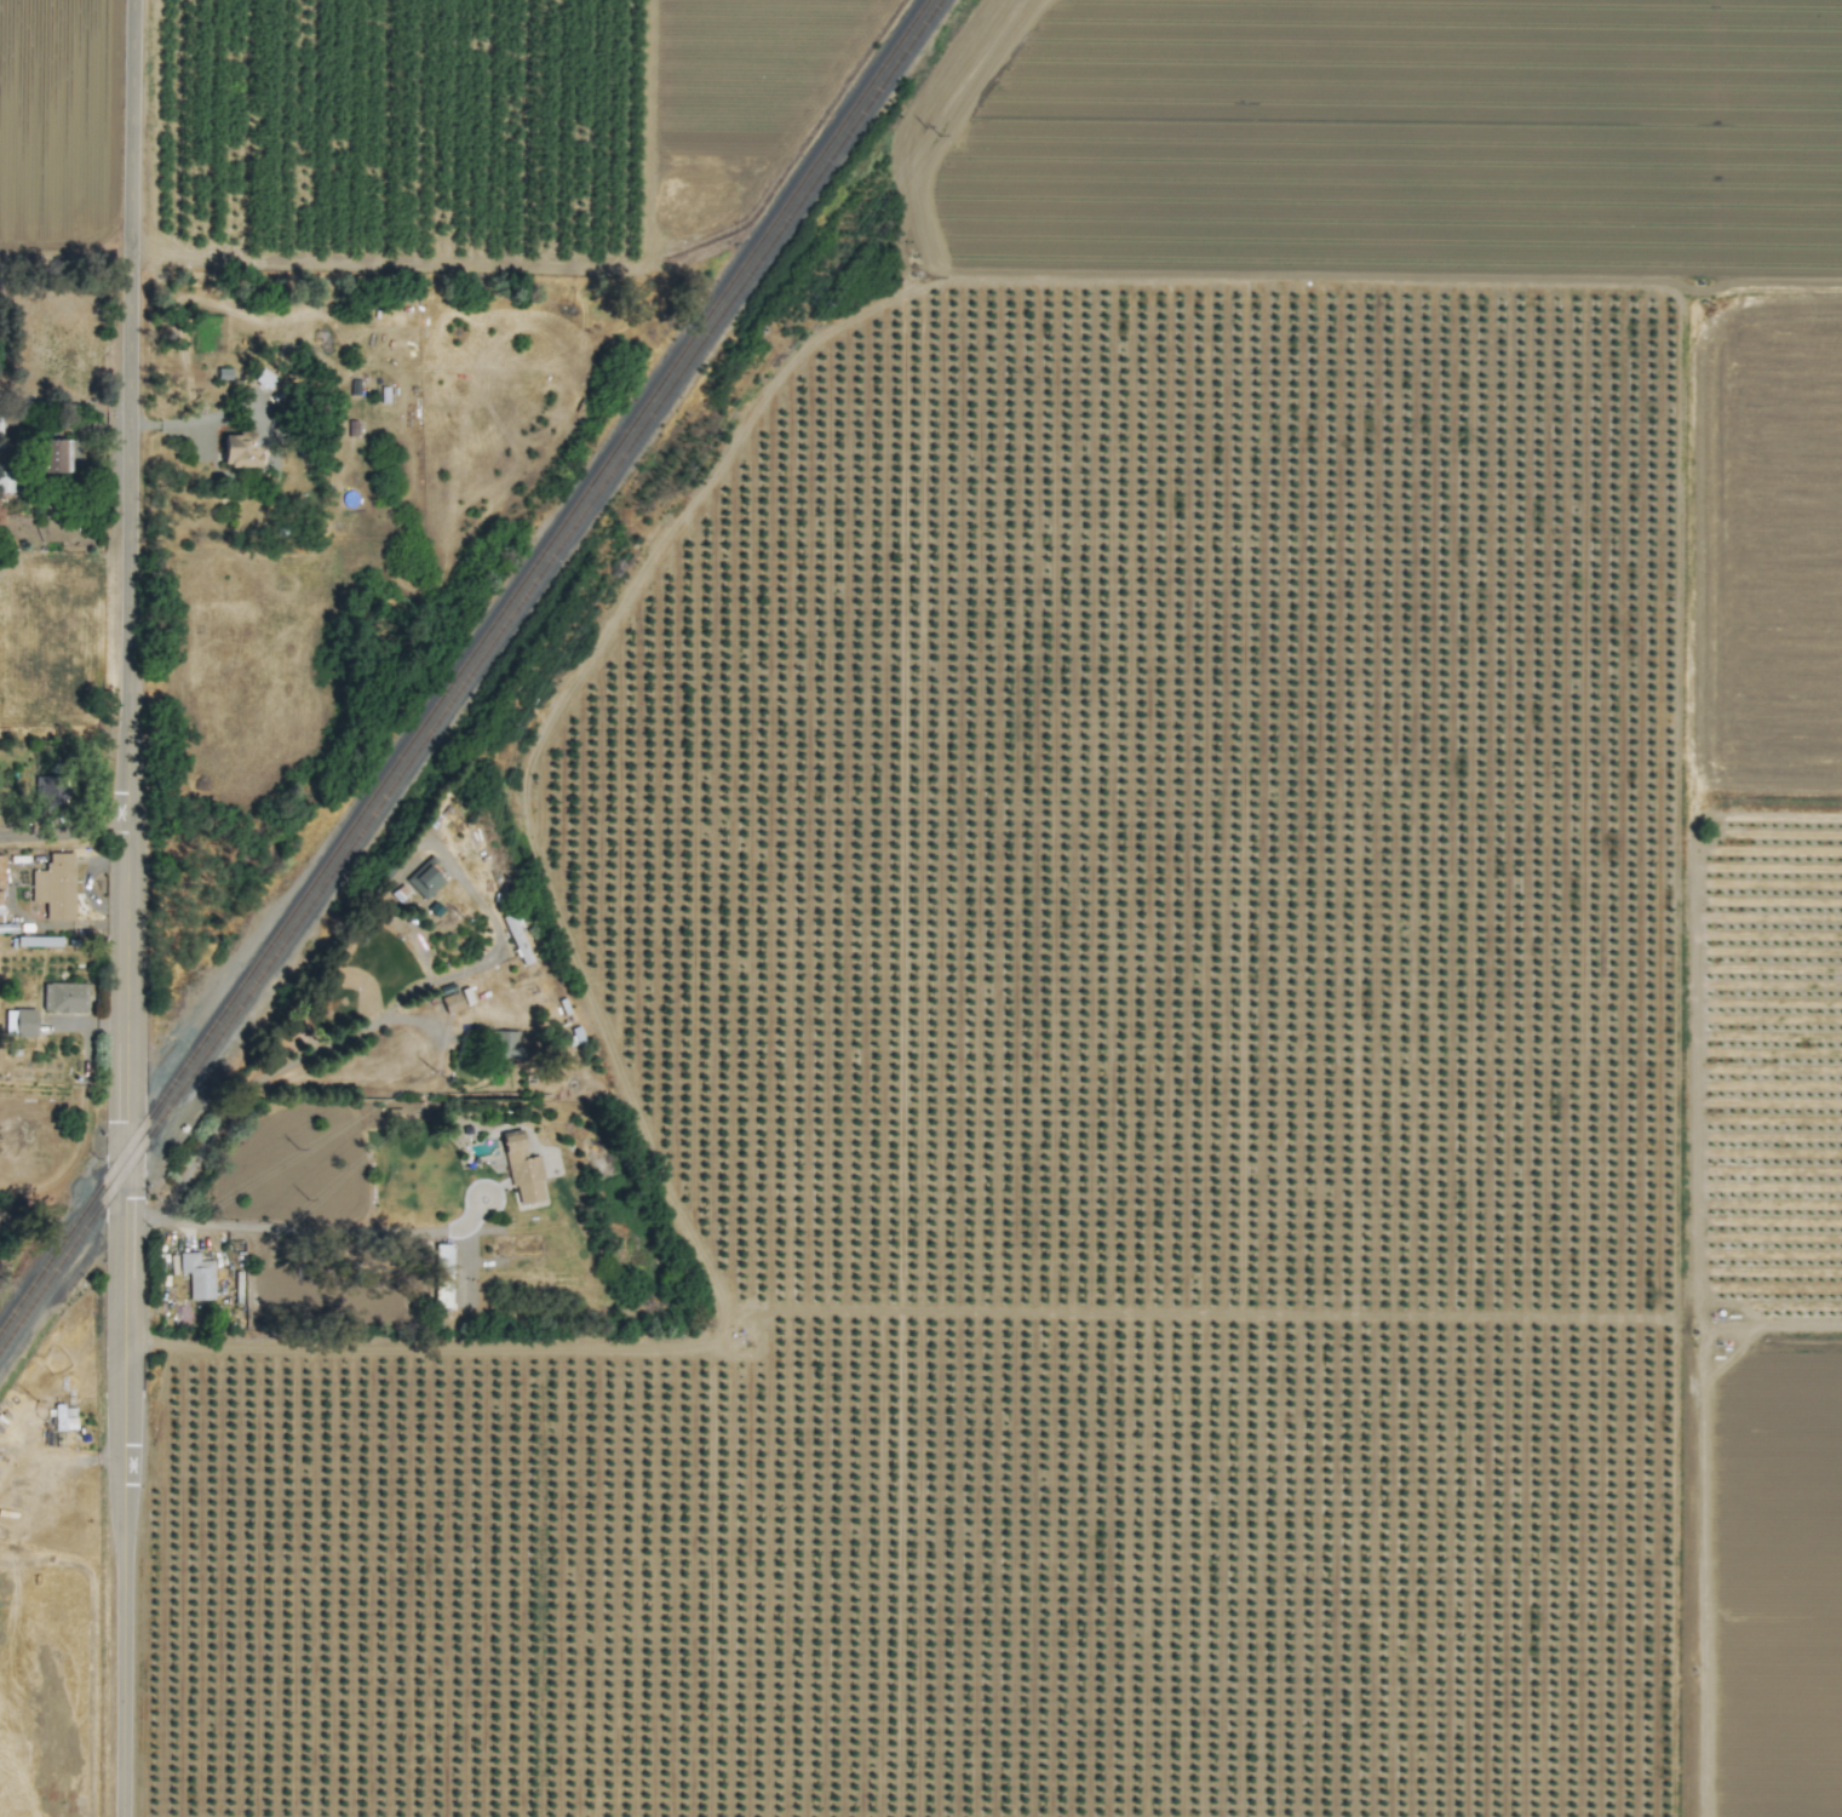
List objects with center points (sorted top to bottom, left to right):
road: (64, 268)
road: (196, 417)
building: (239, 449)
building: (53, 454)
railway: (463, 664)
railway: (471, 675)
road: (61, 842)
building: (54, 885)
road: (124, 908)
road: (1695, 985)
building: (62, 997)
building: (19, 1021)
road: (337, 1039)
building: (505, 1044)
building: (522, 1169)
road: (291, 1228)
building: (442, 1251)
road: (460, 1267)
building: (197, 1276)
building: (442, 1294)

